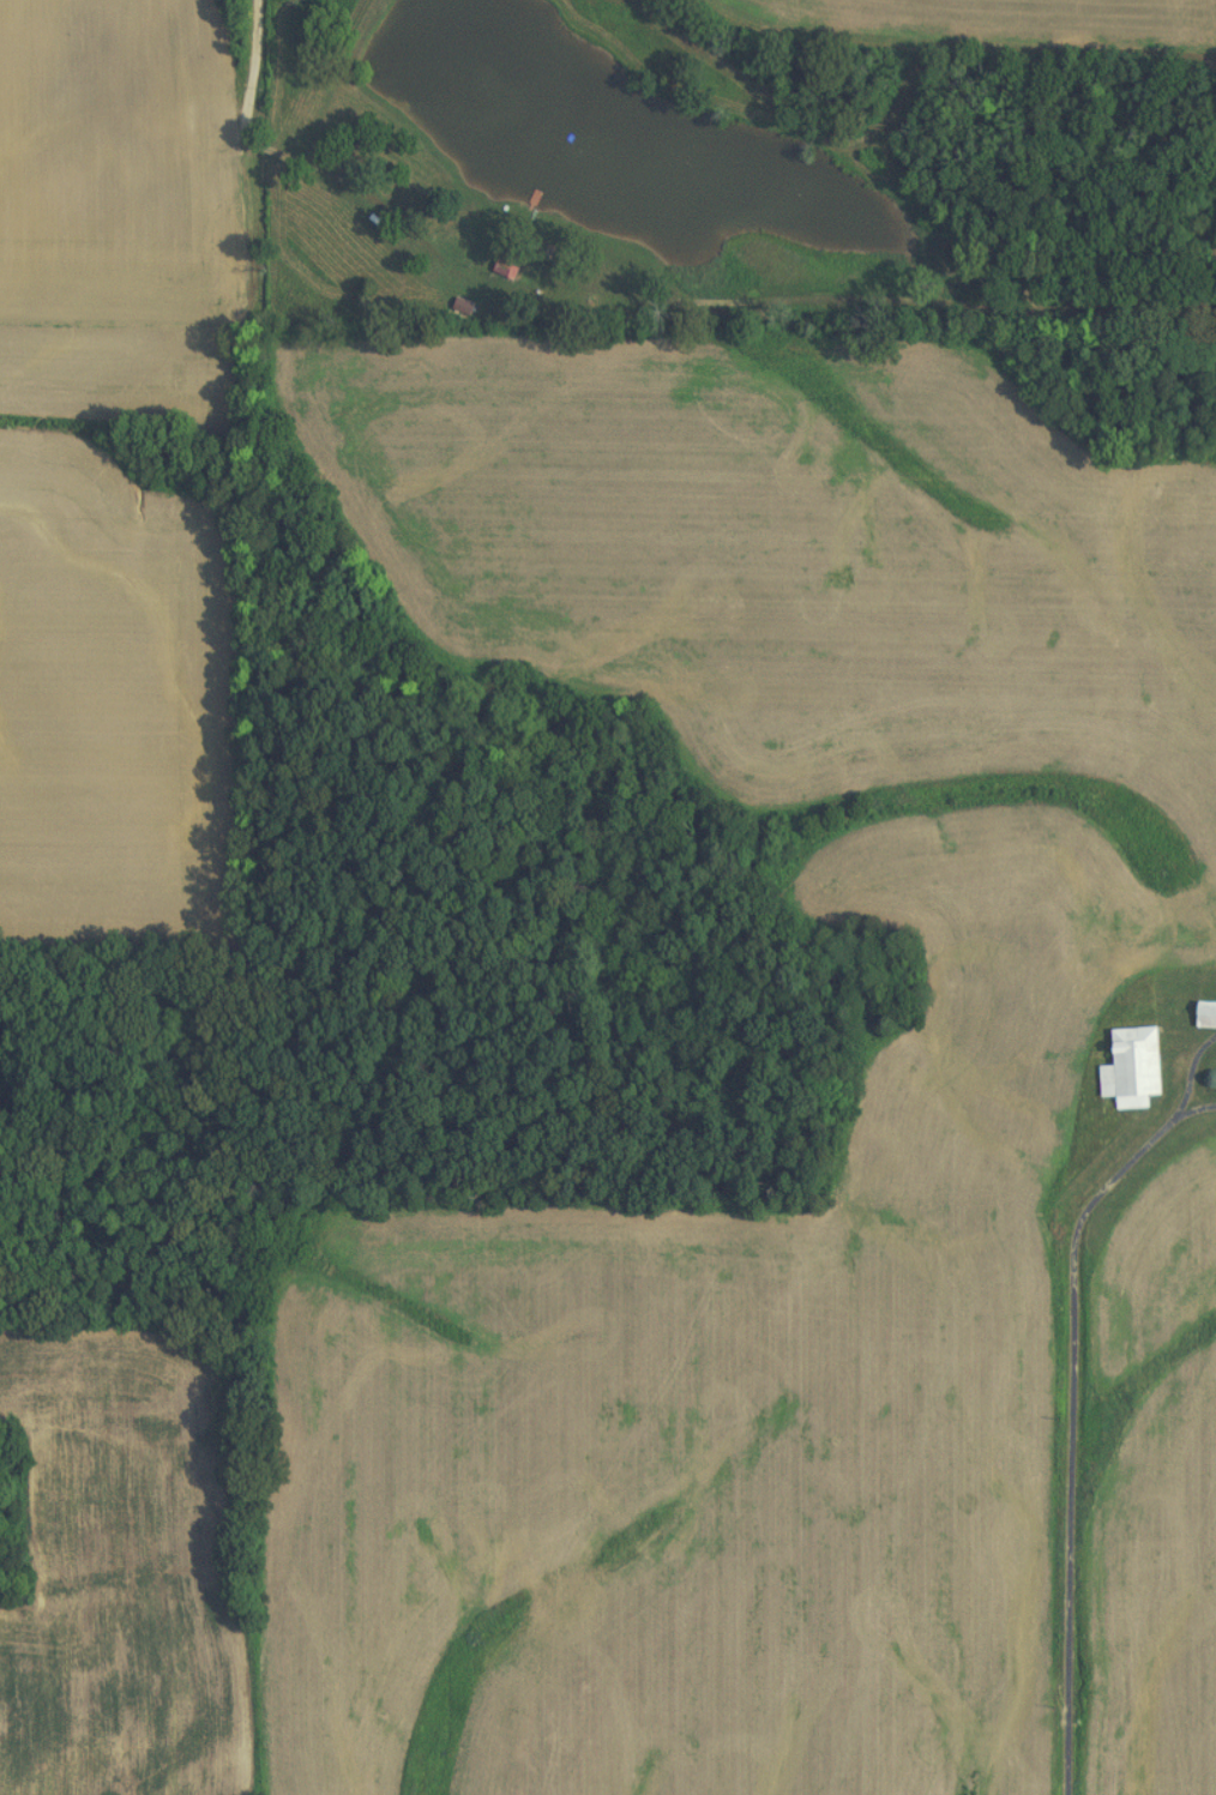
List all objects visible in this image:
building: (499, 266)
building: (1131, 1066)
road: (1180, 1101)
road: (1074, 1440)

